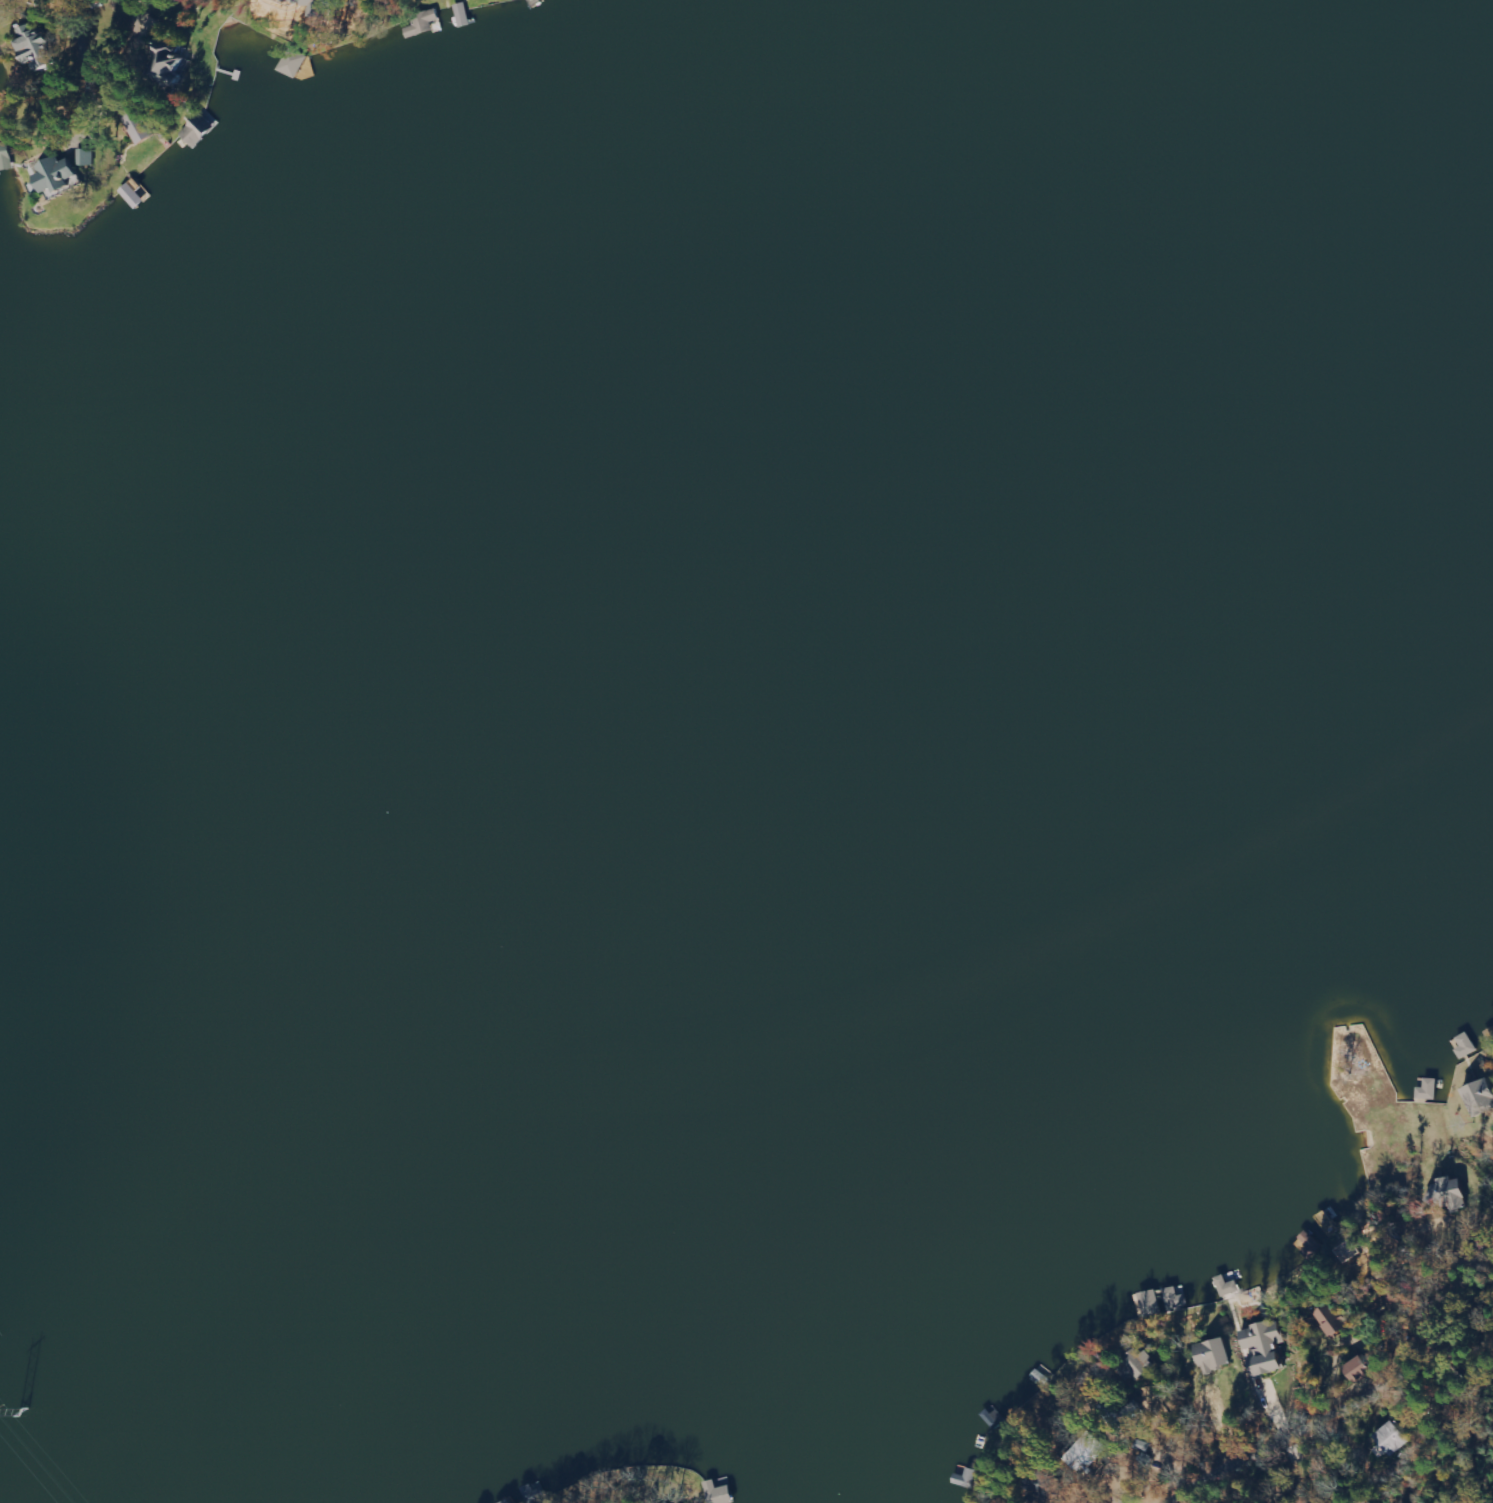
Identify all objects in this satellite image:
building: (421, 24)
building: (36, 43)
building: (0, 59)
building: (170, 63)
road: (174, 63)
road: (168, 75)
building: (143, 128)
building: (90, 157)
building: (59, 177)
building: (1429, 1090)
building: (1480, 1097)
building: (1445, 1194)
building: (1227, 1286)
building: (1164, 1301)
building: (1326, 1323)
building: (1263, 1347)
building: (1214, 1355)
building: (1138, 1366)
building: (1358, 1370)
road: (1355, 1406)
building: (1394, 1439)
building: (719, 1493)
building: (510, 1501)

